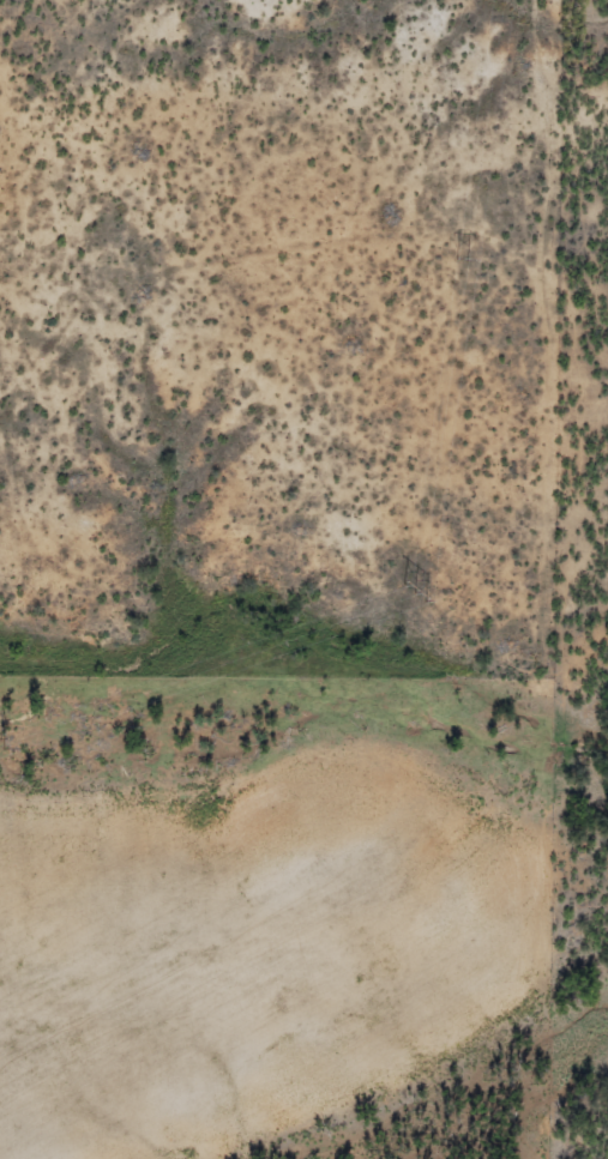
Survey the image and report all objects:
power tower: (463, 259)
power tower: (414, 592)
power tower: (1, 743)

